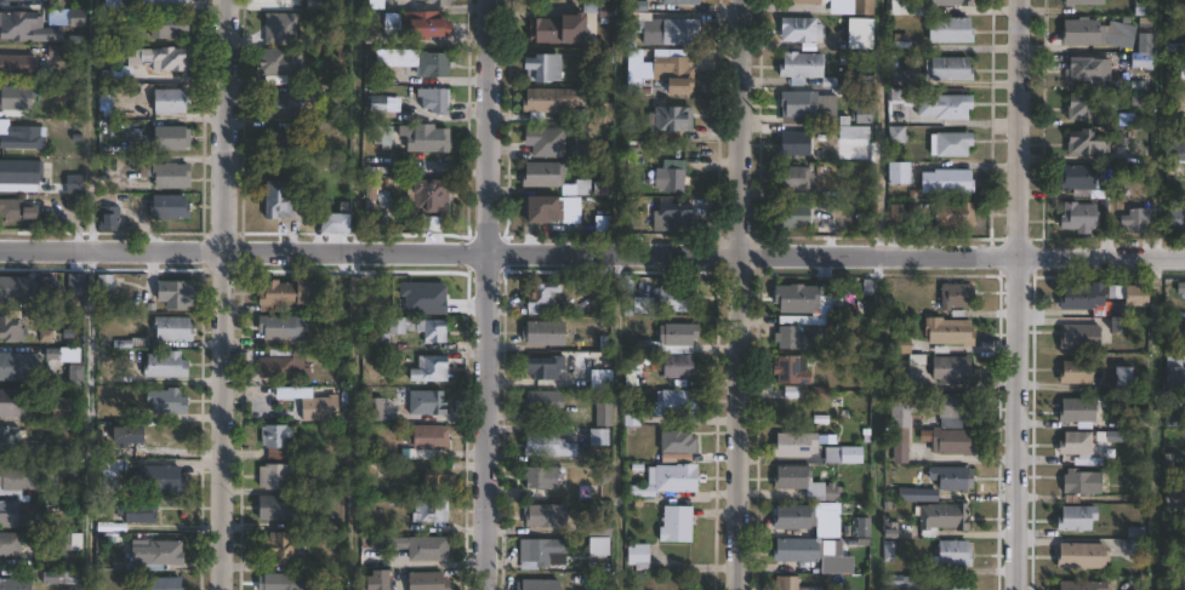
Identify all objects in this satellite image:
building: (170, 0)
building: (895, 0)
building: (112, 1)
building: (678, 1)
building: (435, 2)
building: (809, 2)
building: (946, 2)
building: (1084, 2)
building: (374, 4)
building: (320, 5)
building: (861, 7)
building: (171, 24)
building: (416, 24)
building: (28, 27)
building: (661, 29)
building: (554, 30)
building: (798, 30)
building: (948, 30)
building: (1096, 34)
building: (1175, 50)
building: (164, 58)
building: (275, 62)
building: (414, 62)
building: (1140, 62)
building: (21, 64)
building: (798, 68)
building: (537, 69)
building: (948, 69)
building: (1087, 70)
building: (1181, 70)
building: (896, 71)
building: (656, 75)
building: (18, 97)
building: (176, 99)
building: (432, 101)
building: (546, 101)
building: (925, 105)
building: (273, 107)
building: (808, 107)
building: (1087, 107)
building: (862, 111)
building: (600, 114)
building: (668, 120)
building: (1133, 120)
building: (854, 132)
building: (175, 136)
building: (382, 137)
building: (24, 138)
building: (422, 139)
building: (281, 141)
building: (543, 142)
building: (793, 144)
building: (947, 144)
building: (1083, 144)
building: (1174, 151)
building: (21, 171)
building: (178, 174)
building: (895, 174)
building: (540, 176)
building: (1078, 178)
building: (791, 179)
building: (668, 181)
building: (76, 183)
building: (945, 183)
building: (576, 189)
building: (369, 196)
building: (427, 196)
building: (274, 200)
building: (172, 207)
building: (18, 211)
building: (548, 211)
building: (790, 216)
building: (952, 216)
building: (1077, 217)
building: (1175, 217)
building: (112, 219)
building: (670, 219)
building: (1135, 220)
building: (330, 224)
building: (431, 224)
road: (592, 251)
building: (13, 290)
building: (172, 292)
building: (537, 292)
road: (221, 294)
road: (486, 294)
building: (626, 294)
road: (740, 294)
building: (953, 294)
road: (1014, 294)
building: (279, 296)
building: (1135, 297)
building: (803, 298)
building: (672, 299)
building: (1088, 300)
building: (170, 327)
building: (277, 327)
building: (417, 327)
building: (8, 331)
building: (946, 331)
building: (541, 332)
building: (785, 333)
building: (1078, 338)
building: (335, 339)
building: (375, 339)
building: (130, 342)
building: (901, 344)
building: (676, 348)
building: (74, 355)
building: (163, 363)
building: (279, 366)
building: (541, 367)
building: (16, 368)
building: (427, 368)
building: (790, 370)
building: (952, 370)
building: (1075, 372)
building: (1175, 372)
building: (1121, 377)
building: (896, 378)
building: (164, 400)
building: (425, 401)
building: (539, 401)
building: (673, 402)
building: (13, 403)
building: (951, 403)
building: (311, 406)
building: (372, 407)
building: (68, 409)
building: (1076, 411)
building: (898, 413)
building: (631, 417)
building: (1172, 417)
building: (124, 434)
building: (425, 436)
building: (597, 436)
building: (11, 439)
building: (274, 439)
building: (946, 440)
building: (674, 441)
building: (1075, 442)
building: (793, 443)
building: (899, 443)
building: (546, 445)
building: (842, 454)
building: (108, 465)
building: (272, 476)
building: (539, 476)
building: (13, 477)
building: (158, 477)
building: (951, 477)
building: (666, 480)
building: (796, 480)
building: (1081, 481)
building: (433, 482)
building: (831, 492)
building: (916, 494)
building: (1174, 497)
building: (273, 508)
building: (427, 510)
building: (135, 511)
building: (10, 514)
building: (543, 515)
building: (792, 516)
building: (940, 517)
building: (1075, 517)
building: (673, 523)
building: (861, 527)
building: (598, 528)
building: (888, 529)
building: (8, 543)
building: (58, 543)
building: (381, 543)
building: (426, 548)
building: (278, 549)
building: (801, 549)
building: (163, 551)
building: (541, 551)
building: (953, 552)
building: (1081, 555)
building: (637, 556)
building: (59, 577)
building: (374, 580)
building: (425, 580)
building: (272, 582)
building: (901, 582)
building: (13, 583)
building: (158, 583)
building: (786, 583)
building: (947, 583)
building: (535, 584)
building: (1081, 585)

